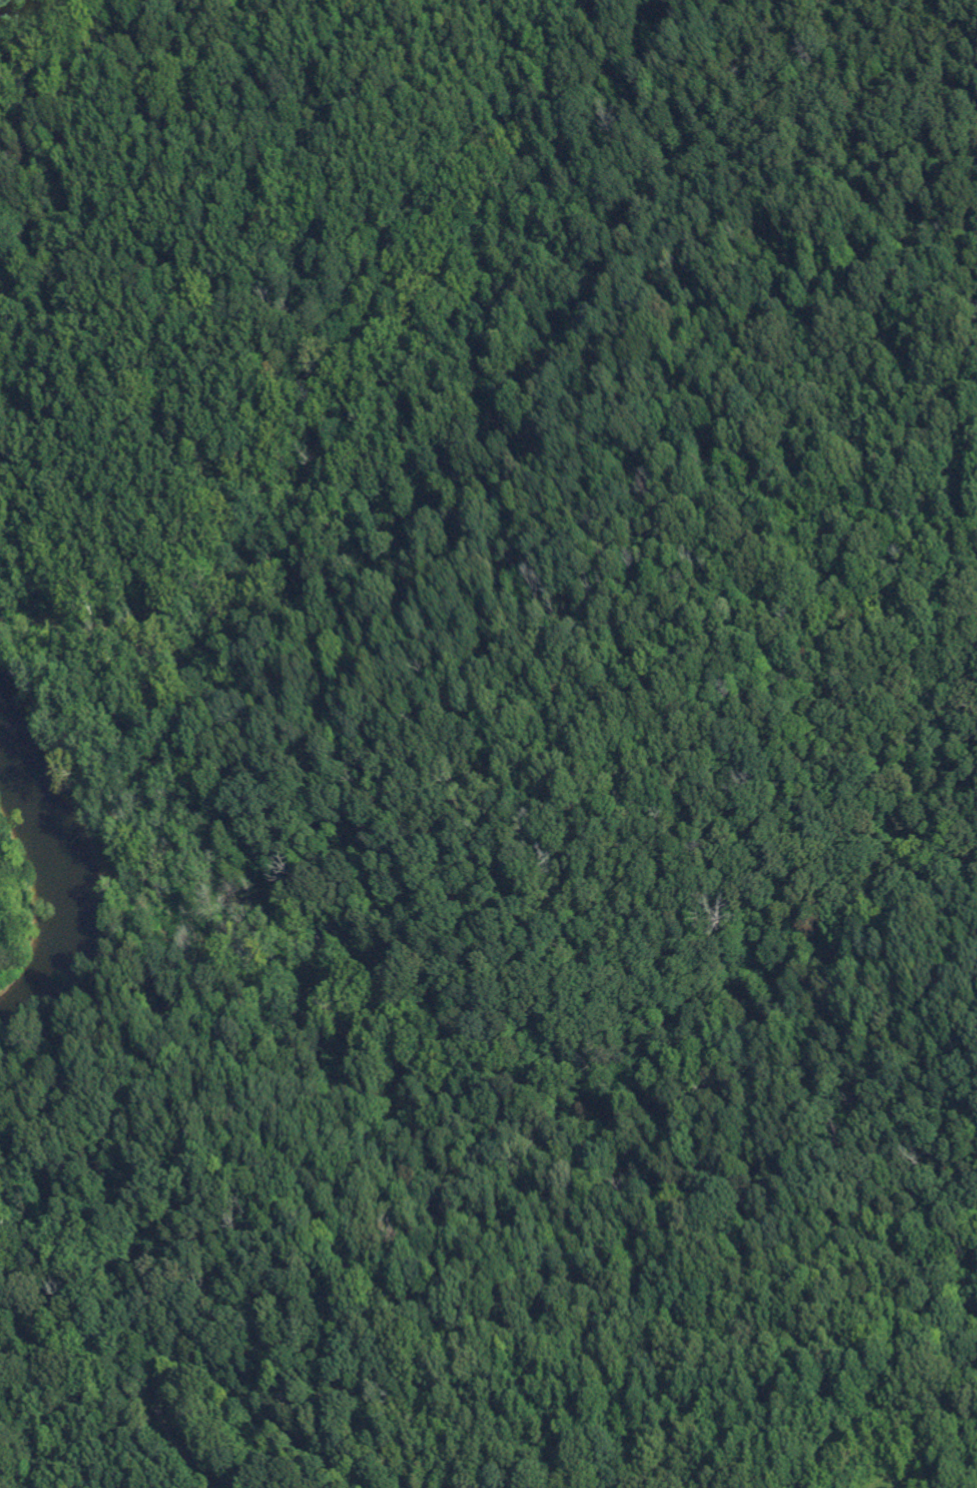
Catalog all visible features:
river: (55, 890)
road: (206, 1392)

